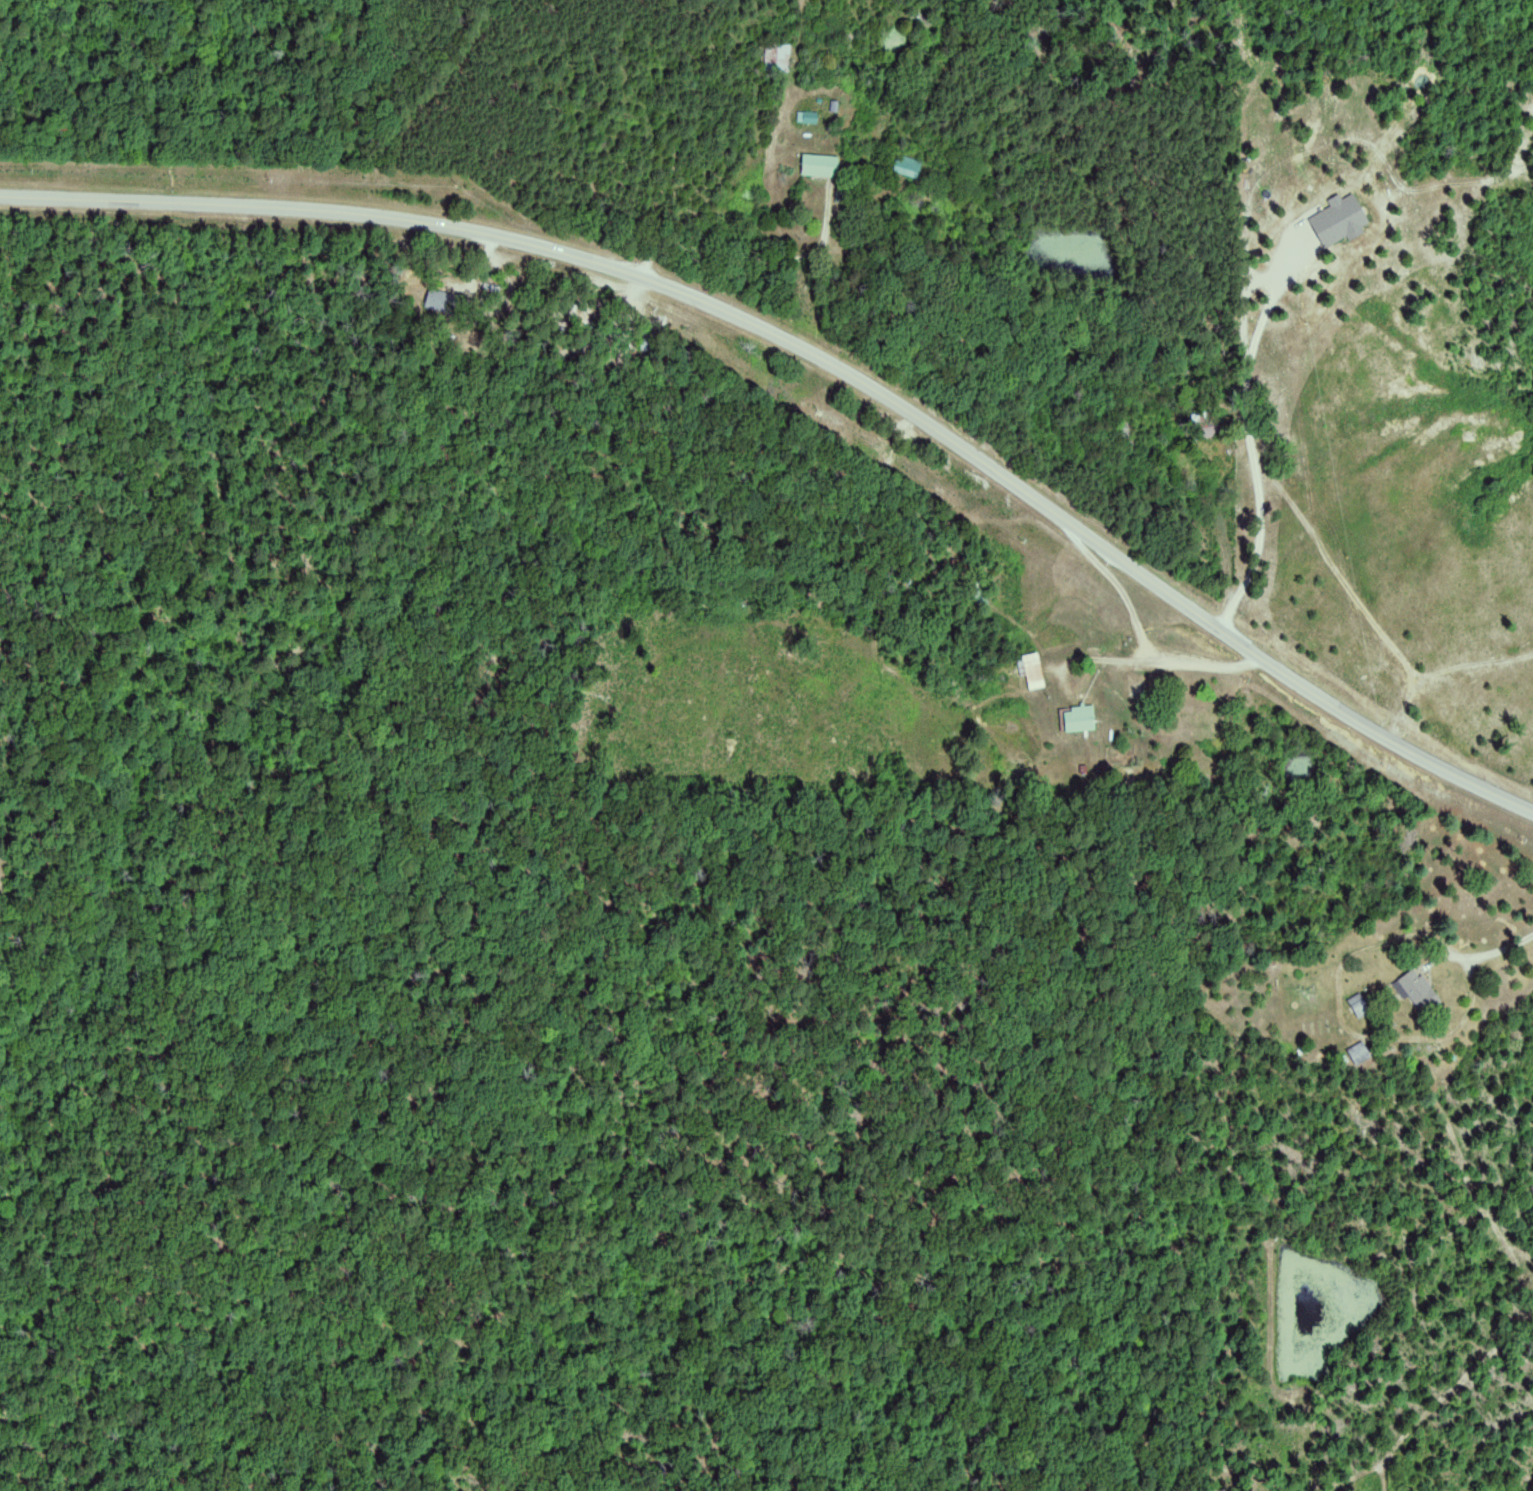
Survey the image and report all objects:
building: (821, 164)
building: (910, 166)
building: (1341, 219)
building: (443, 300)
road: (819, 360)
building: (1034, 670)
building: (1081, 718)
building: (1420, 989)

